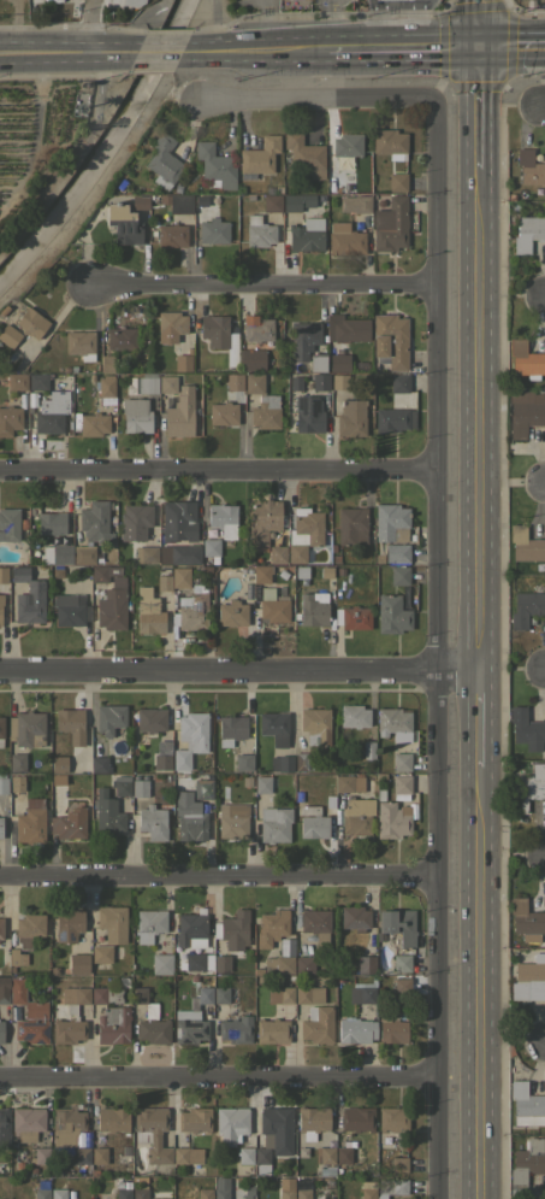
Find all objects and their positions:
building: (131, 2)
road: (375, 2)
road: (85, 19)
road: (209, 22)
road: (475, 23)
road: (134, 24)
road: (265, 25)
road: (333, 25)
road: (420, 25)
road: (66, 40)
road: (510, 47)
road: (401, 48)
road: (295, 52)
road: (221, 53)
road: (155, 54)
road: (65, 61)
road: (318, 101)
road: (543, 104)
road: (475, 107)
building: (390, 143)
building: (343, 149)
building: (304, 154)
building: (259, 157)
building: (164, 160)
building: (215, 166)
building: (529, 167)
building: (397, 181)
building: (510, 195)
building: (140, 201)
building: (296, 201)
building: (178, 202)
building: (272, 202)
building: (355, 204)
building: (514, 205)
building: (123, 223)
building: (390, 224)
building: (213, 230)
building: (259, 231)
building: (527, 231)
building: (172, 234)
building: (307, 235)
building: (344, 239)
road: (261, 286)
road: (544, 299)
building: (31, 322)
building: (173, 324)
building: (214, 327)
building: (345, 328)
building: (257, 329)
building: (232, 331)
building: (8, 335)
building: (120, 337)
building: (303, 339)
building: (390, 340)
building: (79, 343)
building: (231, 349)
building: (526, 359)
building: (251, 360)
building: (196, 362)
building: (318, 362)
building: (106, 363)
building: (339, 363)
building: (73, 368)
building: (66, 369)
building: (290, 369)
building: (84, 375)
building: (196, 377)
building: (17, 381)
building: (37, 381)
building: (233, 381)
building: (320, 381)
building: (339, 381)
building: (254, 382)
building: (398, 382)
building: (142, 383)
building: (167, 383)
building: (296, 383)
building: (106, 386)
building: (23, 399)
building: (31, 399)
building: (197, 400)
building: (265, 411)
building: (525, 411)
building: (51, 412)
building: (180, 412)
building: (223, 413)
building: (308, 413)
building: (136, 415)
building: (350, 417)
road: (476, 418)
building: (10, 419)
building: (393, 419)
building: (69, 423)
building: (93, 424)
road: (218, 469)
road: (543, 483)
building: (223, 518)
building: (95, 521)
building: (178, 521)
building: (263, 521)
building: (134, 522)
building: (391, 522)
building: (51, 523)
building: (8, 524)
building: (351, 525)
building: (303, 533)
building: (65, 539)
building: (55, 540)
building: (525, 545)
building: (332, 547)
building: (211, 548)
building: (397, 552)
building: (57, 553)
building: (185, 553)
building: (83, 554)
building: (111, 554)
building: (146, 554)
building: (278, 554)
building: (379, 558)
building: (165, 568)
building: (207, 570)
building: (326, 571)
building: (339, 571)
building: (57, 572)
building: (102, 572)
building: (302, 572)
building: (4, 574)
building: (261, 574)
building: (399, 575)
building: (180, 577)
building: (217, 581)
building: (249, 589)
building: (28, 596)
building: (112, 605)
building: (273, 605)
building: (152, 607)
building: (194, 607)
building: (526, 607)
building: (313, 609)
building: (2, 610)
building: (70, 610)
building: (232, 613)
building: (391, 613)
building: (353, 617)
road: (437, 651)
road: (543, 669)
road: (238, 671)
building: (354, 716)
road: (478, 717)
building: (109, 718)
building: (150, 719)
building: (71, 723)
building: (393, 723)
building: (315, 725)
building: (274, 727)
building: (194, 728)
building: (1, 729)
building: (26, 729)
building: (231, 729)
building: (526, 729)
building: (368, 750)
building: (161, 754)
building: (180, 759)
building: (300, 760)
building: (243, 762)
building: (401, 762)
building: (17, 763)
building: (280, 763)
building: (312, 763)
building: (59, 764)
building: (99, 764)
building: (380, 774)
building: (54, 780)
building: (244, 781)
building: (18, 782)
building: (2, 783)
building: (401, 783)
building: (120, 784)
building: (262, 784)
building: (138, 788)
building: (328, 788)
building: (527, 788)
building: (202, 789)
building: (224, 789)
building: (380, 790)
building: (297, 794)
building: (313, 794)
building: (6, 798)
building: (402, 799)
building: (19, 800)
building: (353, 806)
building: (106, 813)
building: (189, 817)
building: (393, 818)
building: (232, 819)
building: (30, 821)
building: (153, 822)
building: (312, 822)
building: (69, 823)
building: (274, 823)
building: (1, 827)
road: (514, 854)
road: (218, 877)
road: (290, 906)
building: (525, 917)
building: (354, 918)
building: (112, 922)
building: (316, 923)
building: (67, 924)
building: (150, 924)
building: (396, 924)
building: (271, 927)
building: (1, 928)
building: (28, 928)
building: (231, 938)
building: (182, 940)
building: (290, 947)
building: (100, 953)
building: (162, 954)
building: (16, 957)
building: (143, 959)
building: (401, 962)
building: (78, 963)
building: (278, 964)
building: (304, 964)
building: (366, 964)
building: (53, 969)
building: (94, 970)
building: (527, 975)
building: (374, 977)
building: (134, 981)
road: (481, 982)
building: (402, 985)
building: (4, 994)
building: (75, 994)
building: (106, 994)
building: (220, 994)
building: (285, 994)
building: (308, 994)
building: (201, 997)
building: (363, 997)
building: (28, 1015)
building: (149, 1018)
building: (316, 1023)
building: (112, 1024)
building: (189, 1025)
building: (235, 1029)
building: (67, 1030)
building: (272, 1030)
building: (355, 1030)
building: (392, 1030)
building: (1, 1032)
road: (544, 1041)
road: (219, 1074)
building: (527, 1104)
building: (112, 1118)
building: (356, 1118)
building: (392, 1118)
building: (194, 1119)
building: (312, 1121)
building: (26, 1122)
building: (66, 1124)
building: (231, 1124)
building: (2, 1125)
building: (277, 1128)
building: (152, 1133)
building: (11, 1144)
building: (40, 1154)
building: (99, 1154)
building: (244, 1154)
building: (326, 1154)
building: (343, 1154)
building: (186, 1156)
building: (82, 1157)
building: (261, 1159)
building: (398, 1164)
building: (527, 1164)
building: (31, 1170)
building: (93, 1170)
building: (326, 1170)
building: (24, 1172)
building: (301, 1181)
building: (119, 1183)
building: (126, 1183)
building: (392, 1186)
building: (367, 1189)
building: (140, 1192)
building: (41, 1193)
building: (58, 1193)
building: (123, 1193)
building: (205, 1193)
building: (220, 1193)
building: (285, 1193)
building: (302, 1193)
building: (245, 1197)
building: (159, 1198)
building: (391, 1198)

